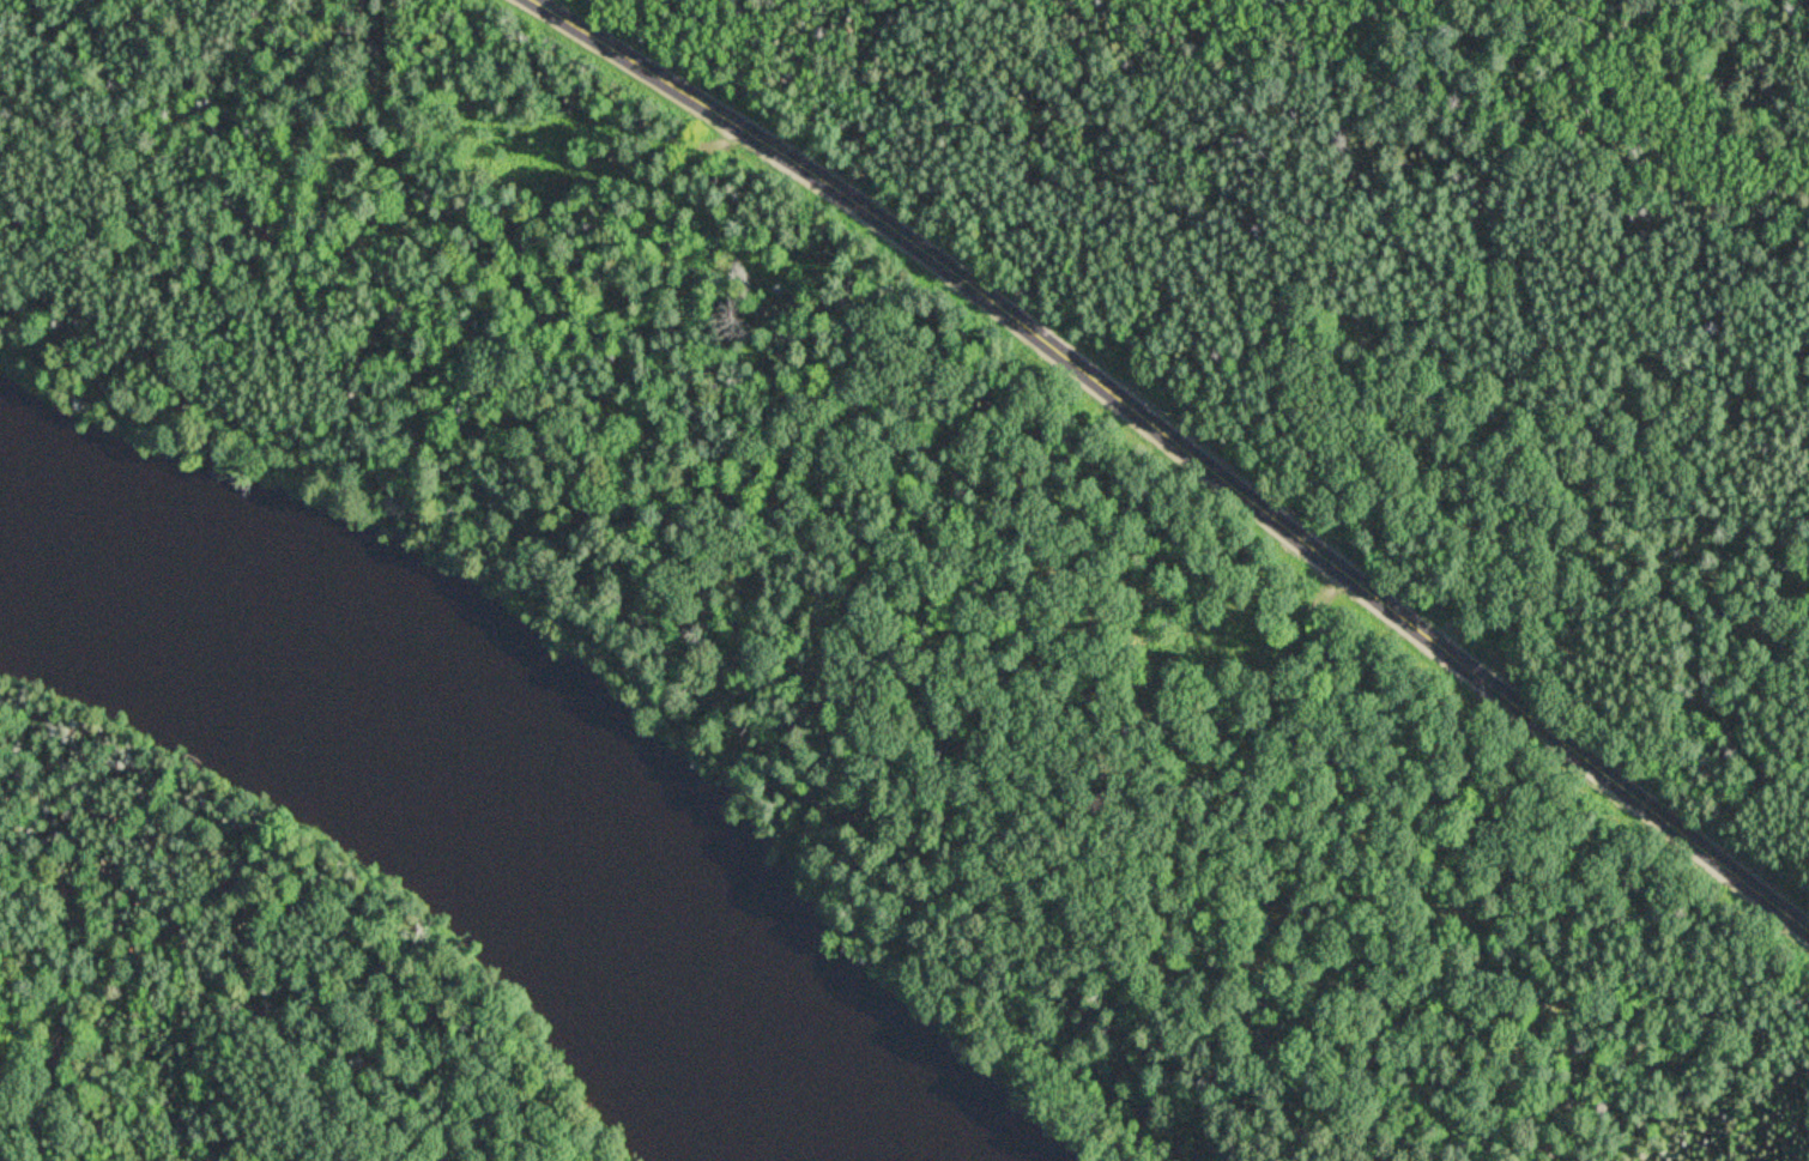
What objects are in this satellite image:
road: (1186, 446)
park: (1011, 518)
river: (454, 846)
road: (79, 984)
park: (228, 988)

